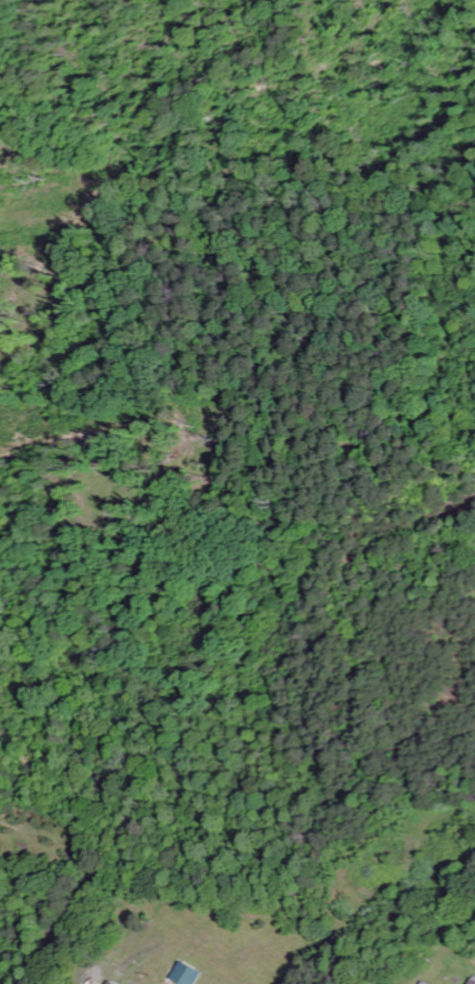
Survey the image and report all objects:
building: (183, 976)
building: (467, 982)

